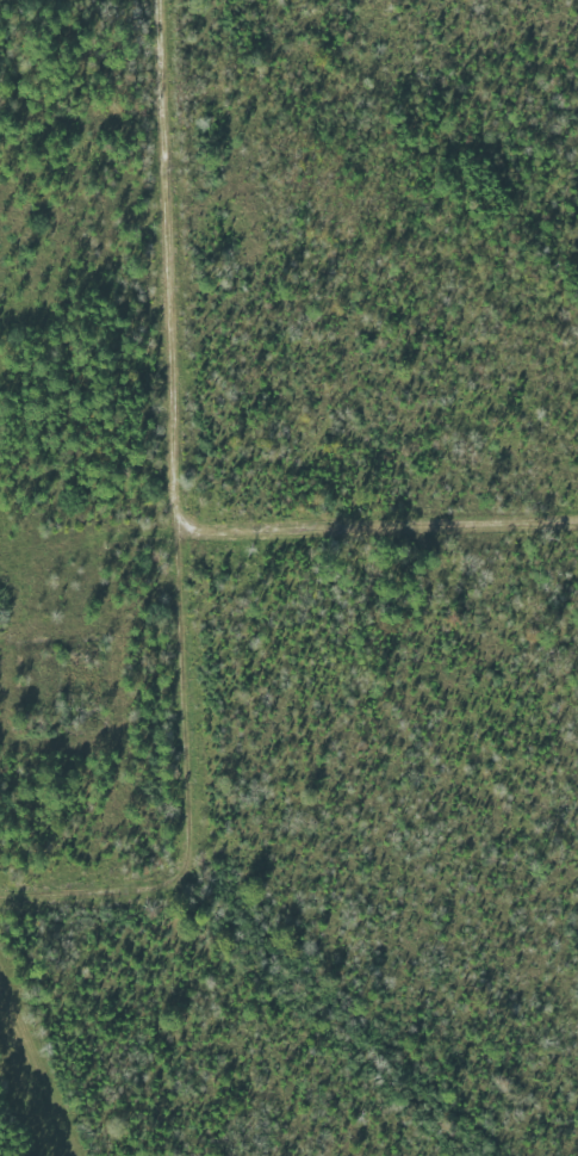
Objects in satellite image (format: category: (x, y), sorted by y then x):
road: (169, 267)
road: (384, 524)

